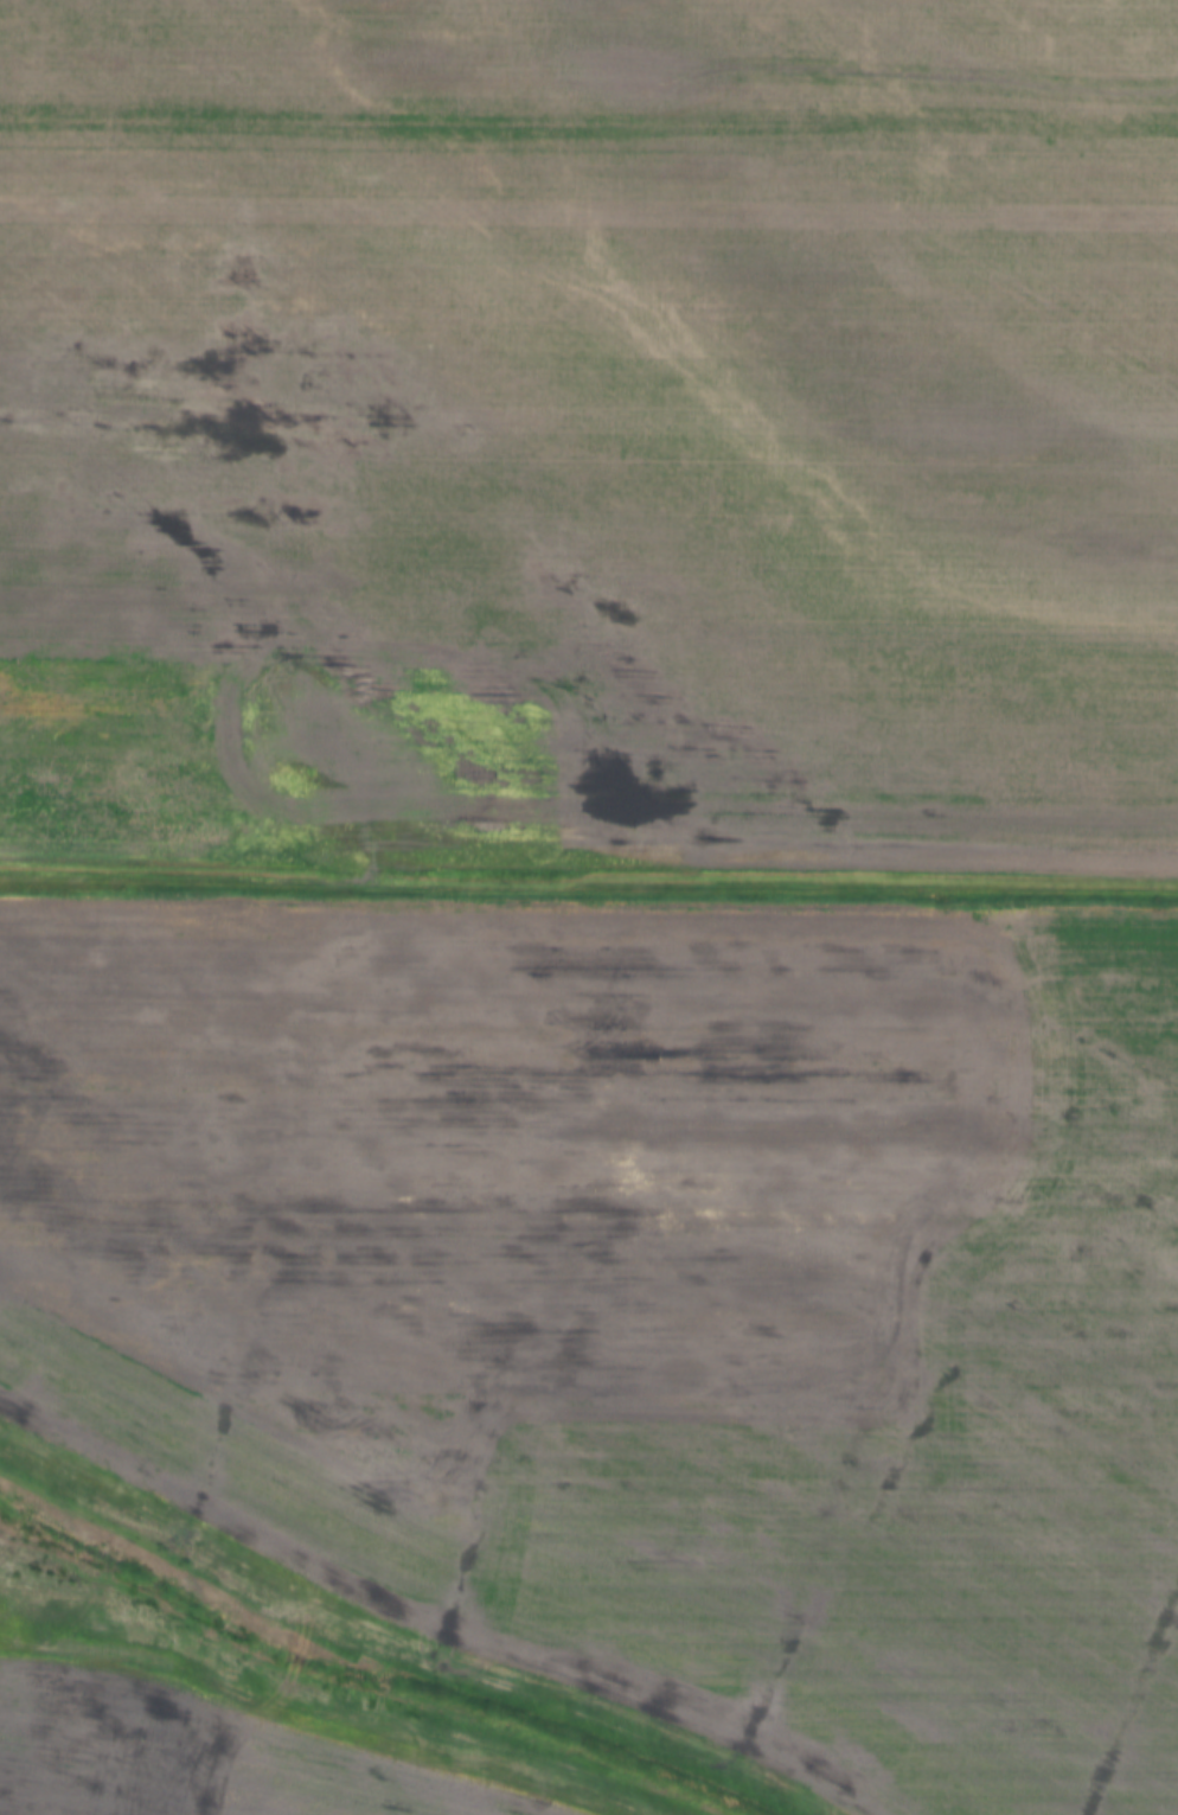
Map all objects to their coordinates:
road: (588, 914)

